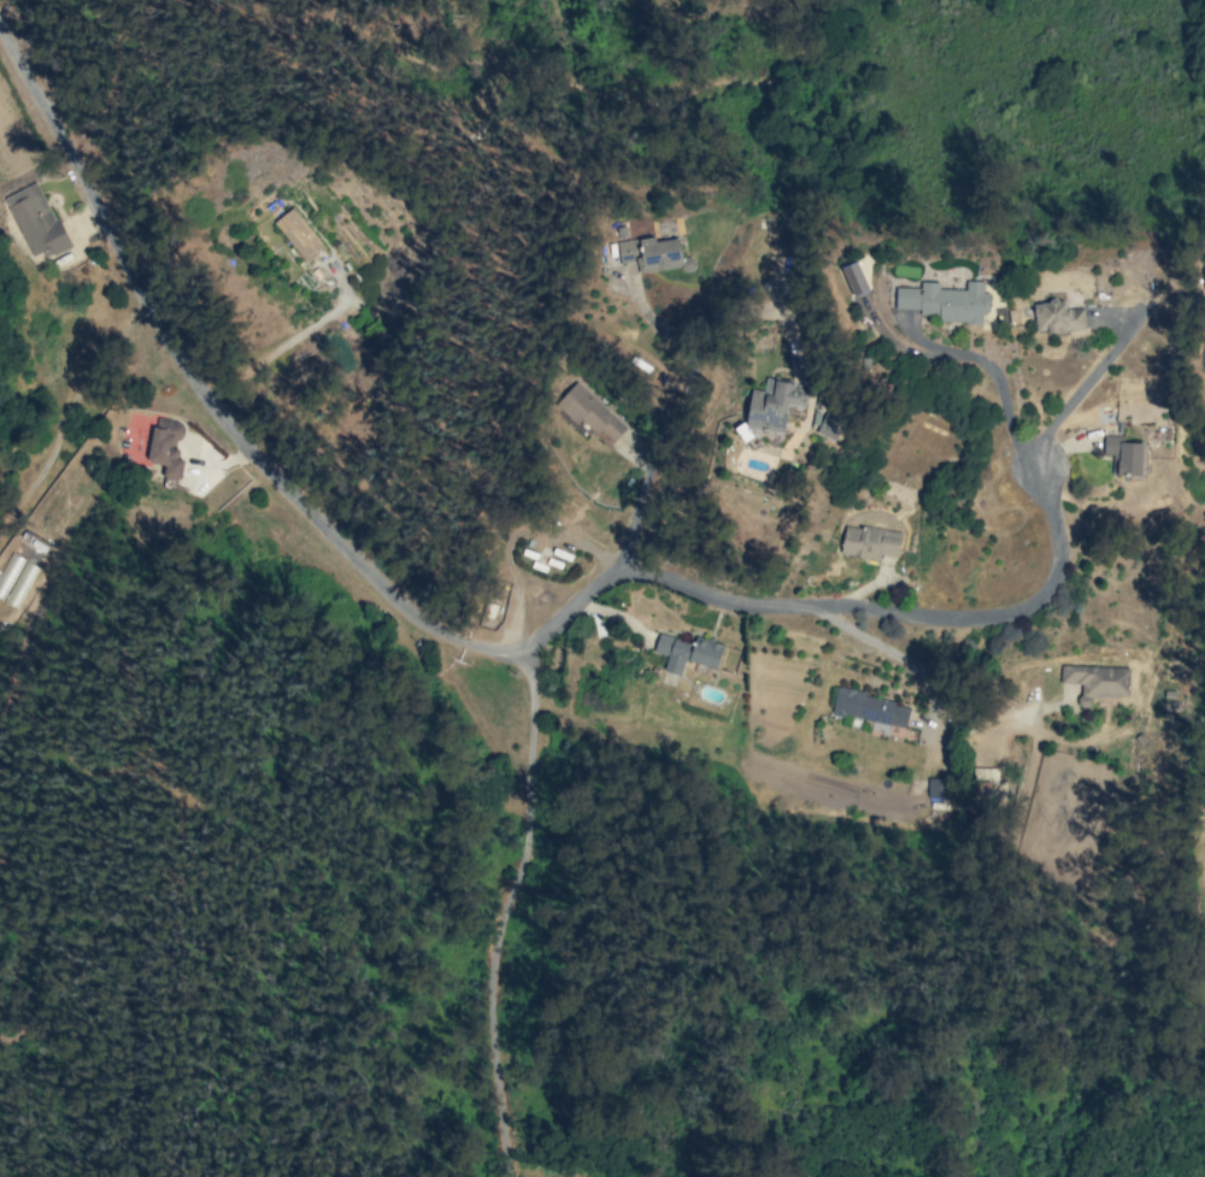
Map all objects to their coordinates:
building: (36, 220)
building: (299, 235)
building: (944, 301)
building: (1058, 317)
road: (904, 348)
road: (997, 371)
road: (1088, 381)
building: (774, 404)
building: (590, 413)
building: (829, 426)
building: (166, 446)
building: (1123, 455)
road: (642, 502)
building: (869, 542)
road: (453, 628)
building: (687, 652)
building: (1097, 681)
building: (870, 708)
building: (983, 782)
building: (937, 789)
road: (529, 800)
road: (492, 1065)

